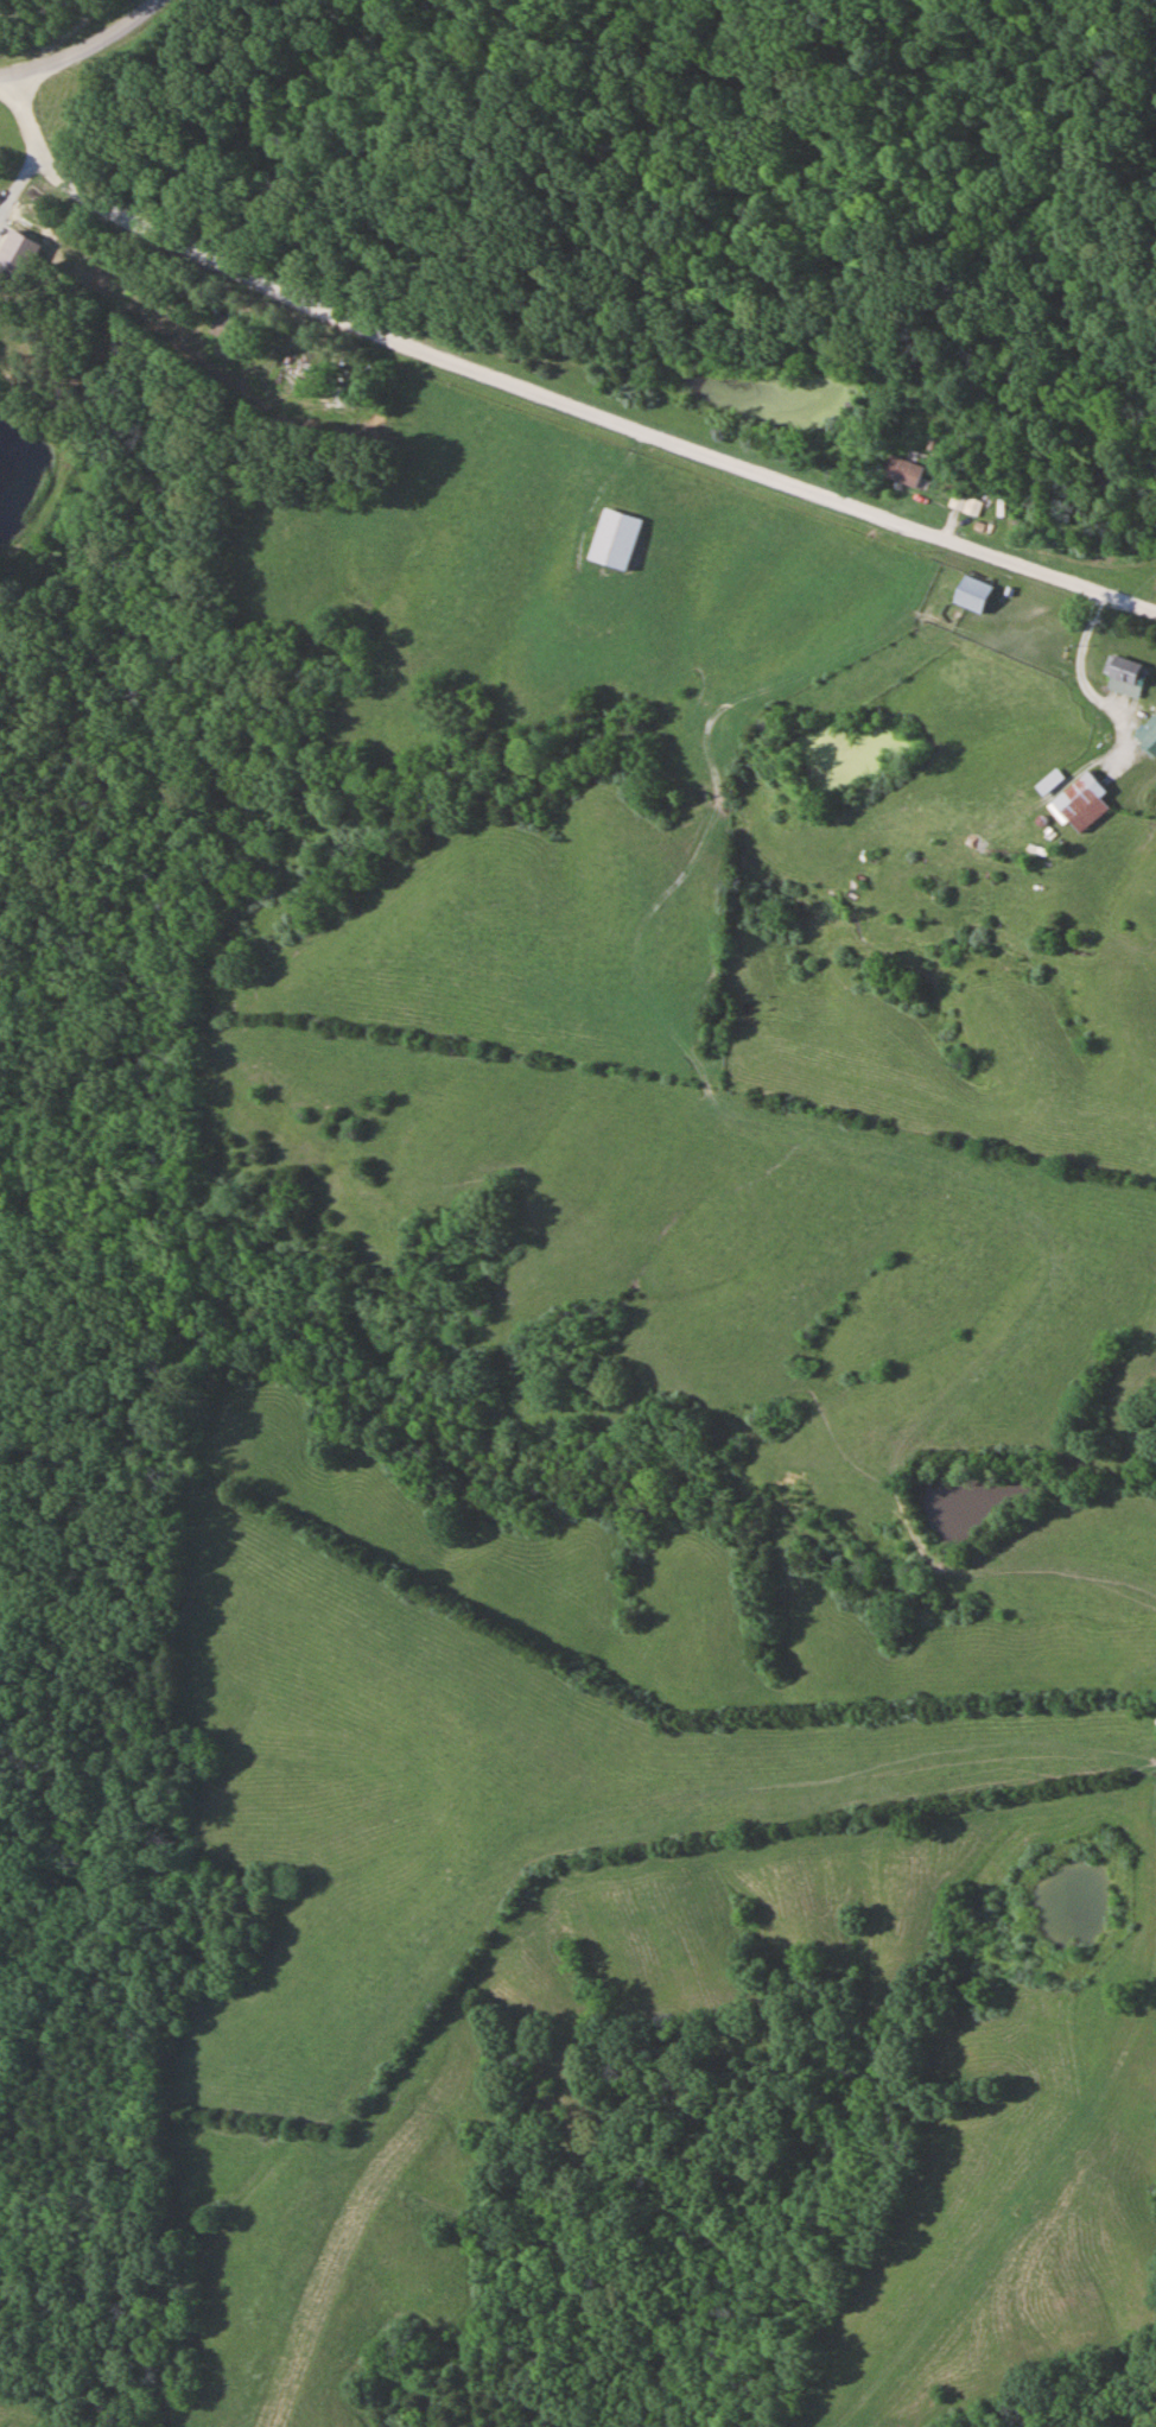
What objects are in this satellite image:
road: (36, 9)
road: (68, 34)
road: (77, 47)
road: (21, 177)
building: (226, 328)
road: (552, 387)
building: (901, 473)
building: (612, 539)
building: (971, 594)
building: (1123, 677)
road: (1114, 703)
building: (1080, 803)

